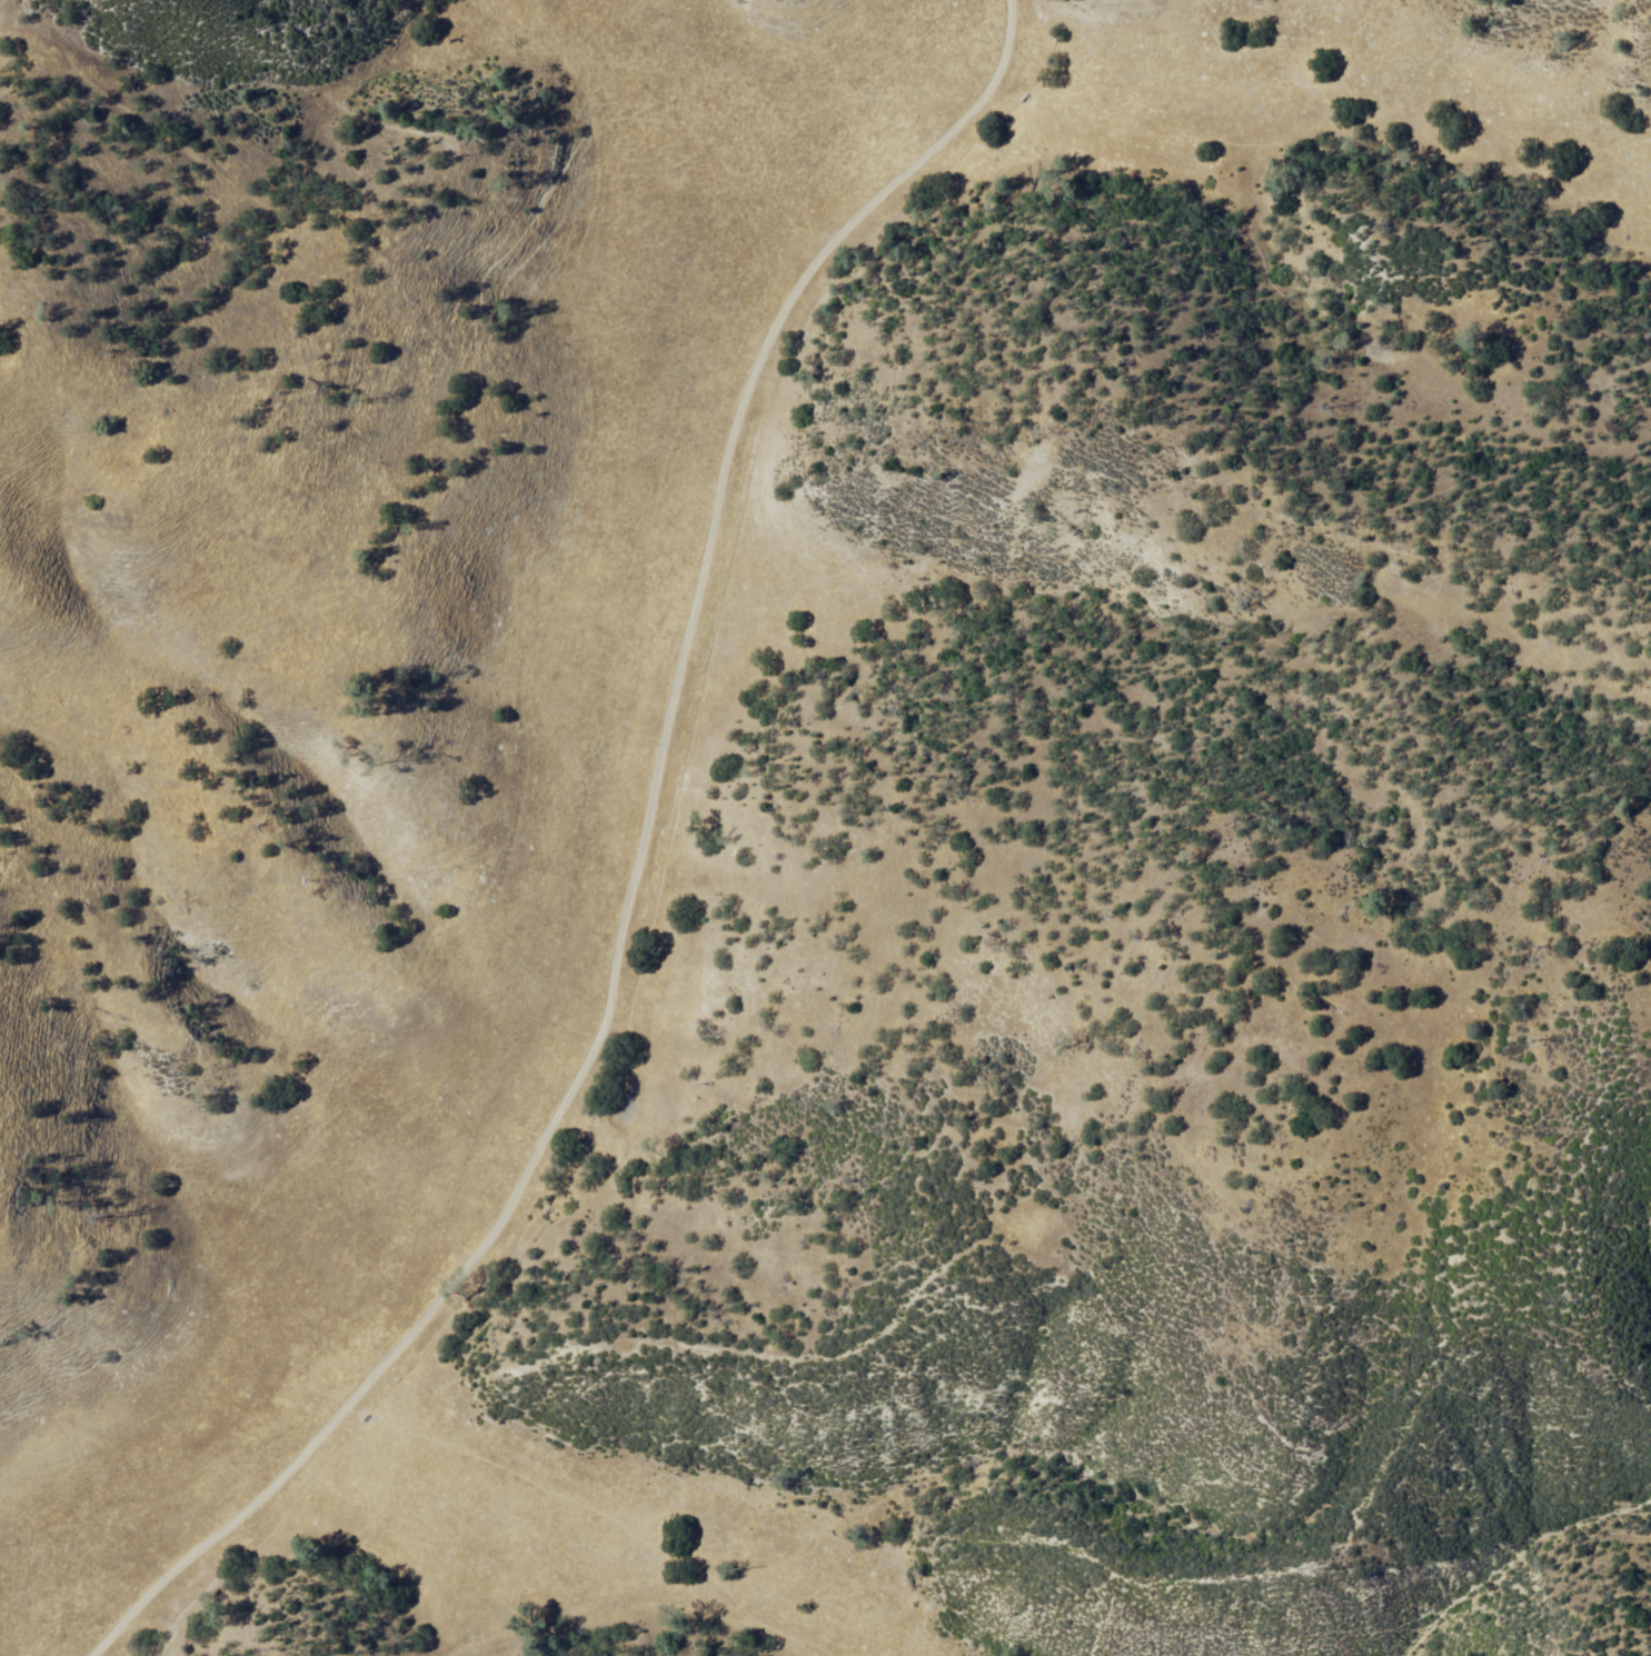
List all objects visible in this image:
road: (641, 871)

